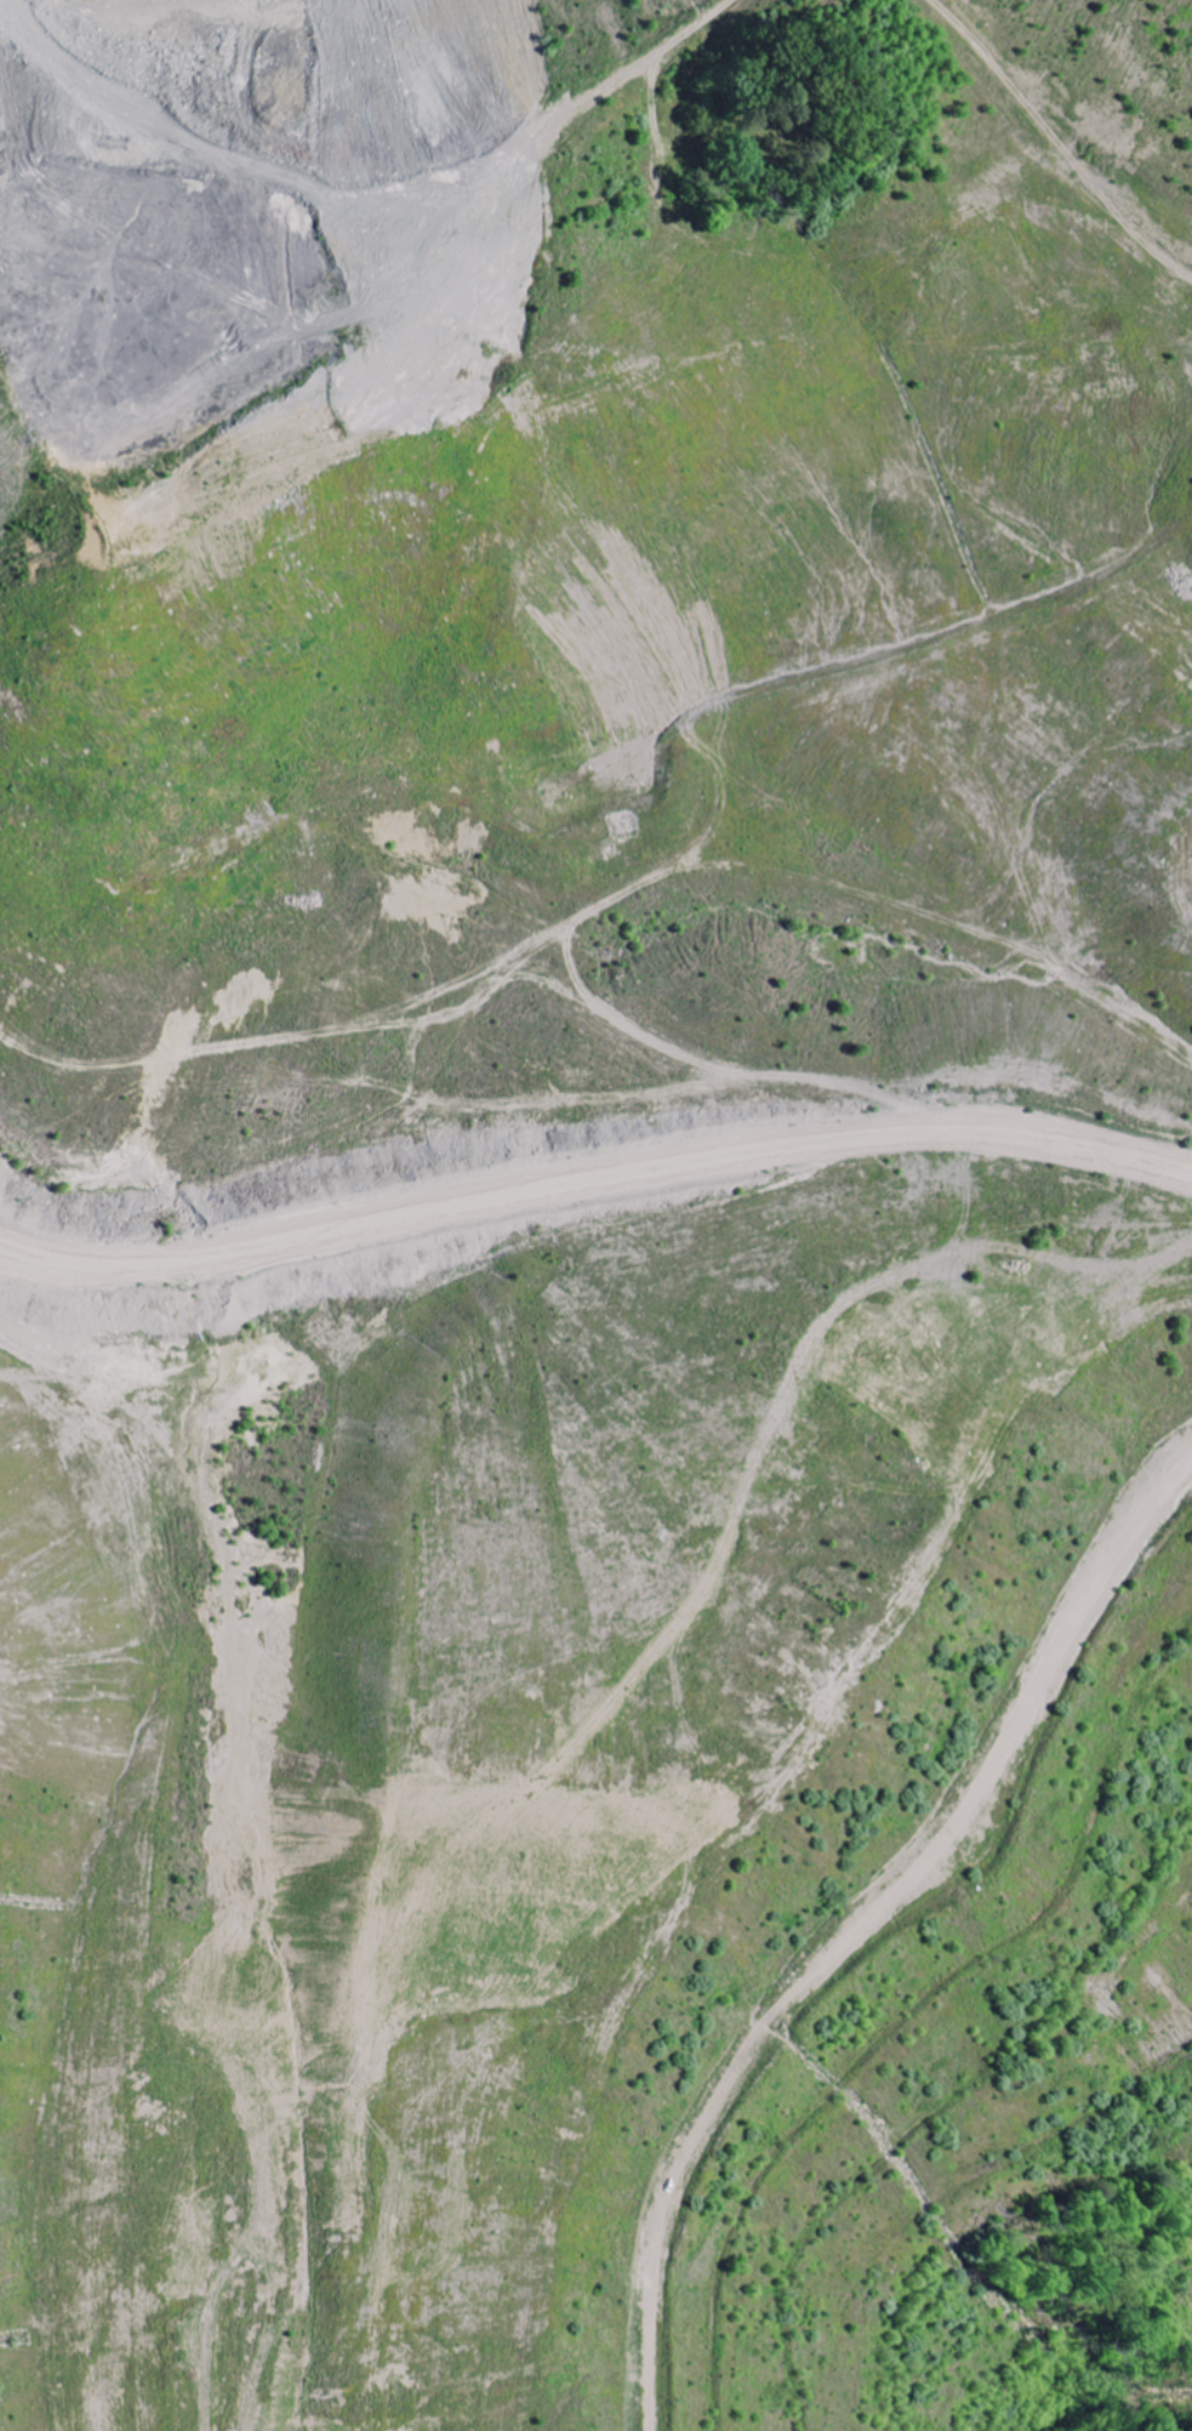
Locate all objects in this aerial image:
quarry: (595, 1215)

